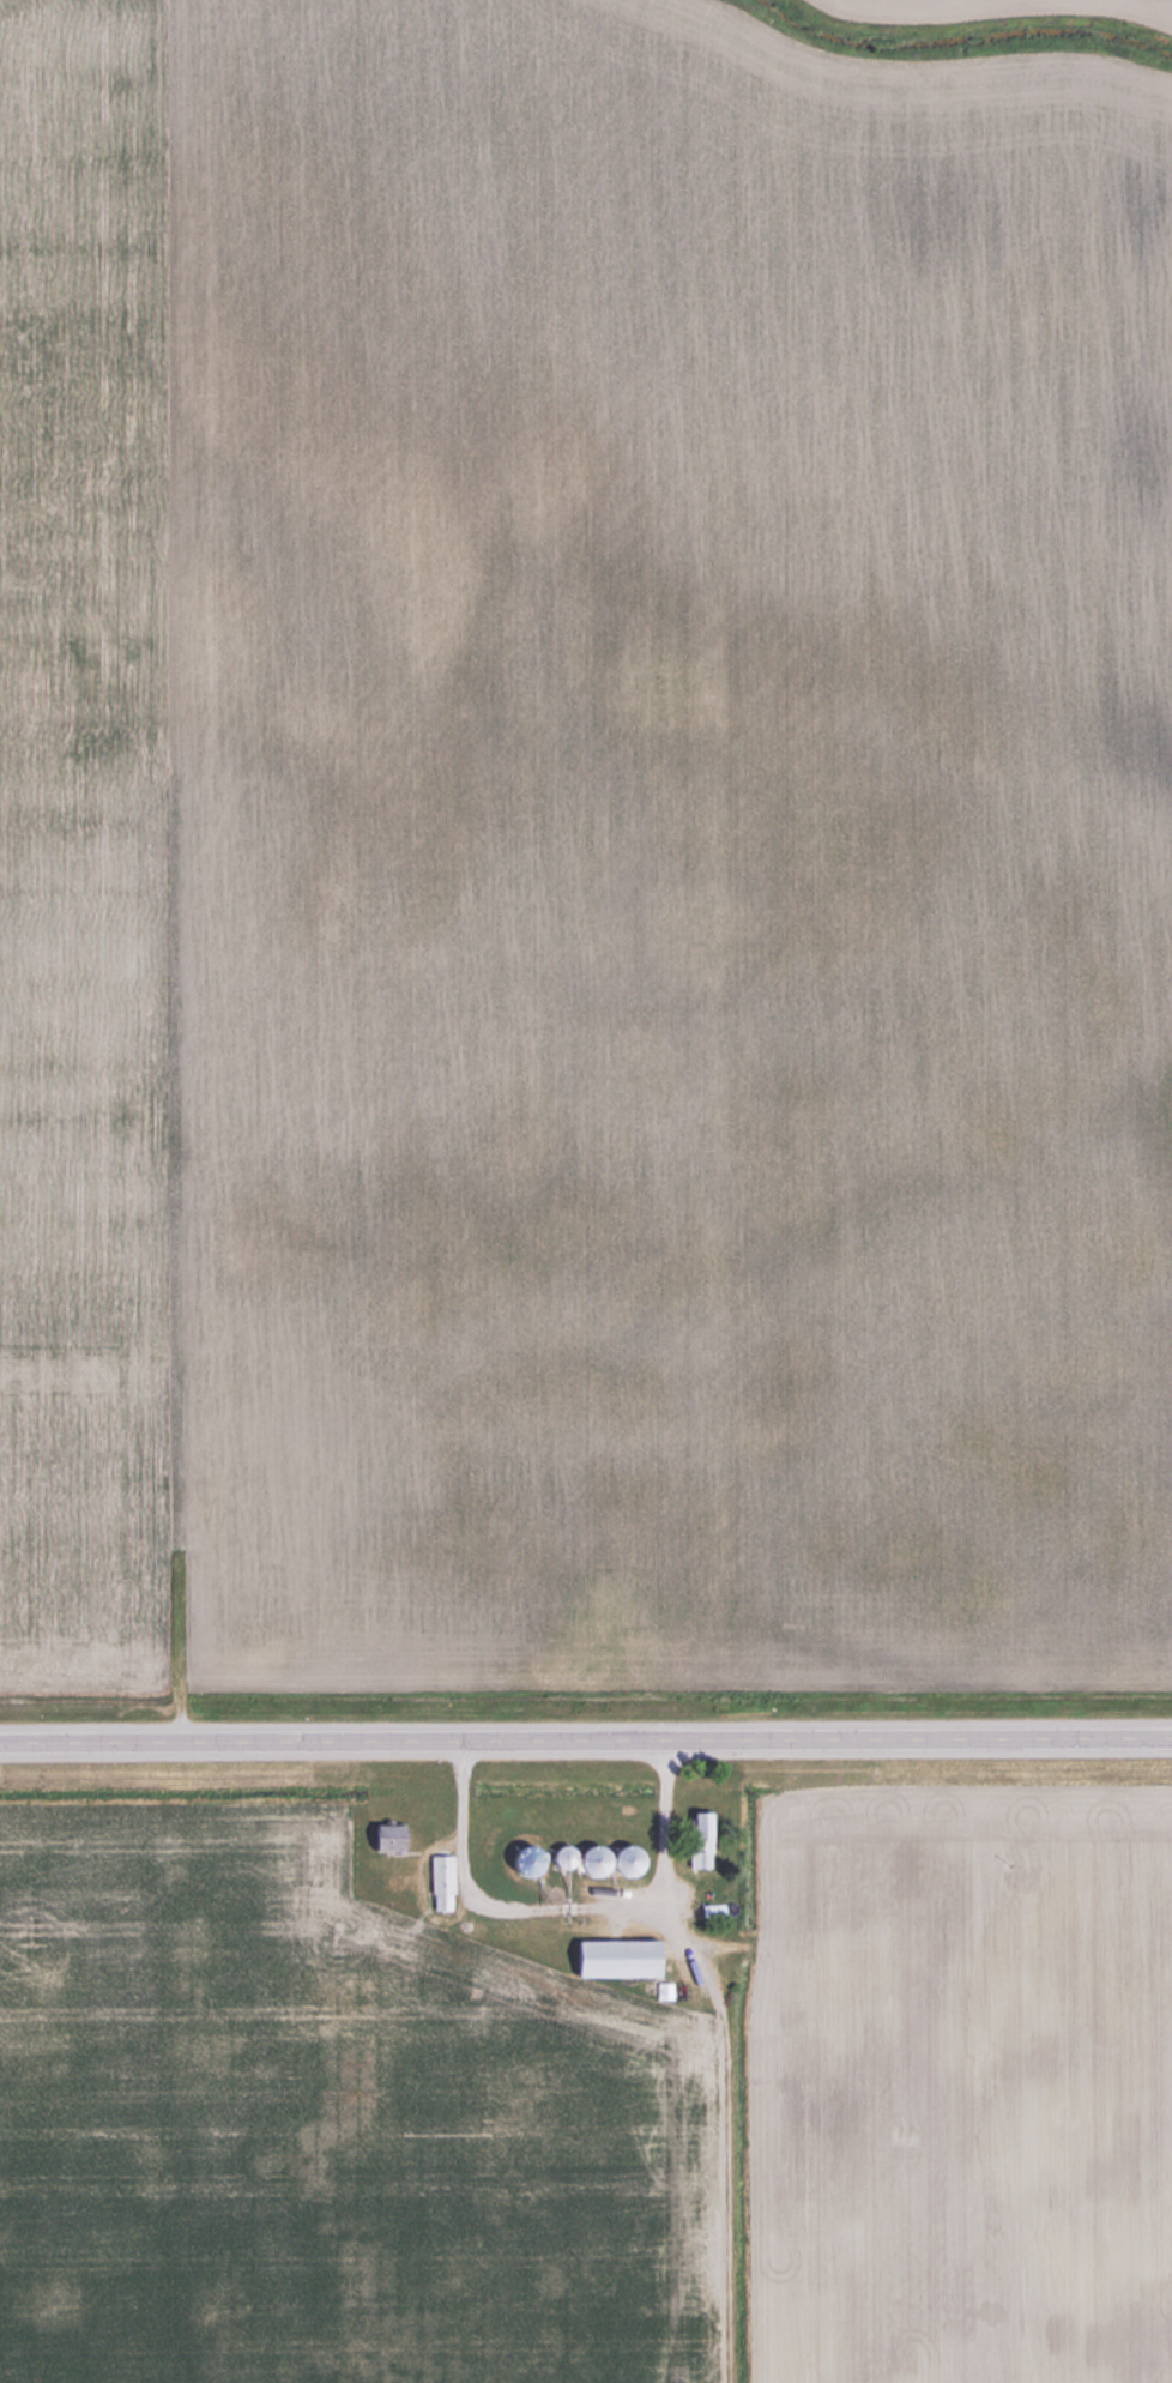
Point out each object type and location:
road: (585, 1741)
road: (654, 1834)
building: (383, 1838)
building: (696, 1840)
building: (579, 1859)
building: (623, 1859)
building: (387, 1882)
building: (440, 1882)
building: (614, 1957)

